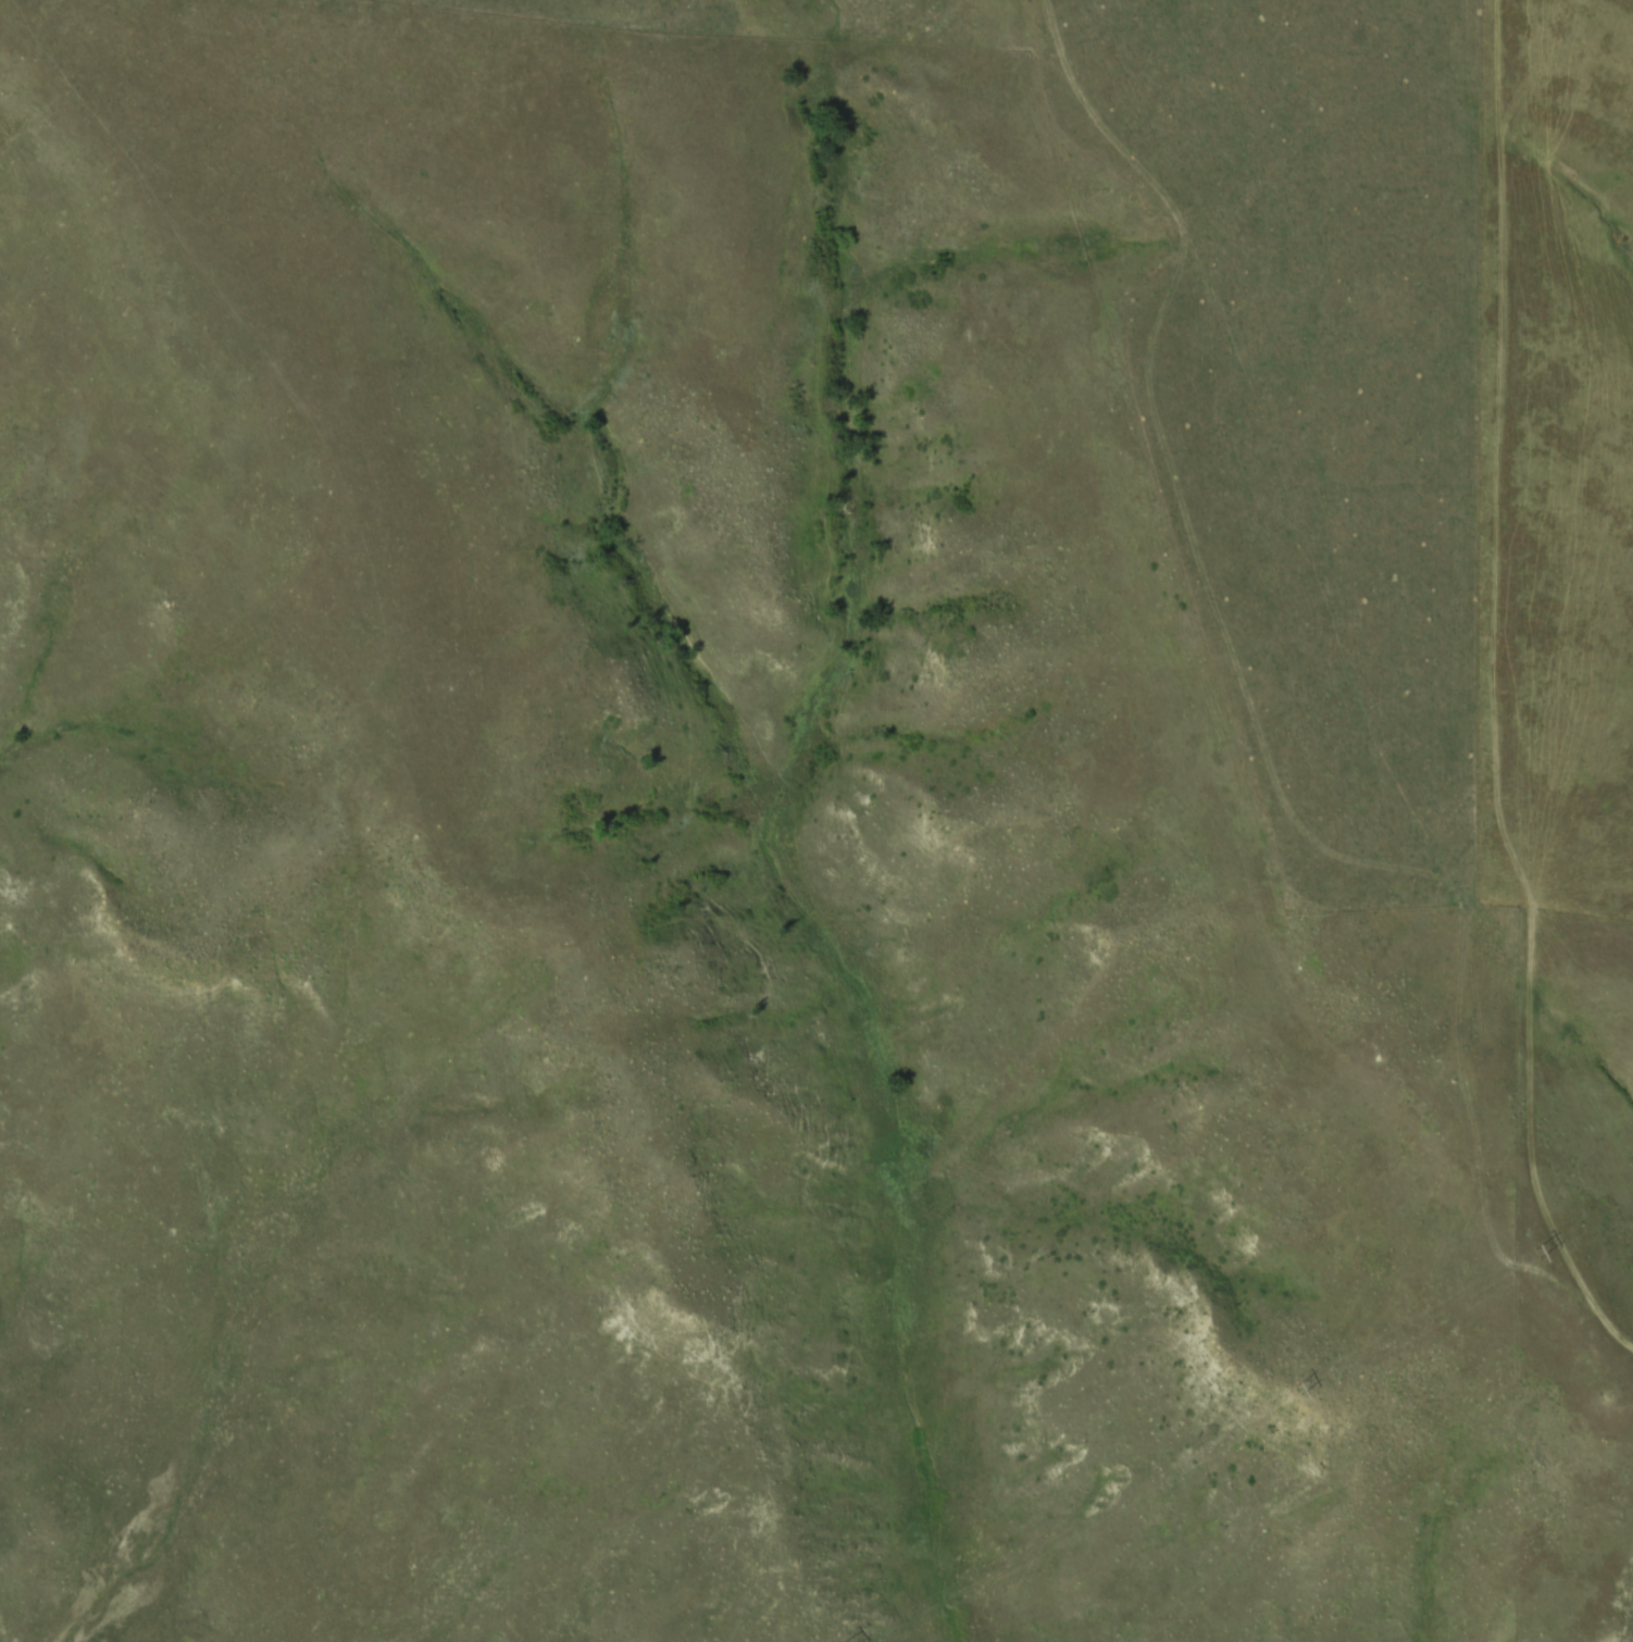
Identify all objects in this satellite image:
power tower: (1537, 1255)
power tower: (1298, 1391)

